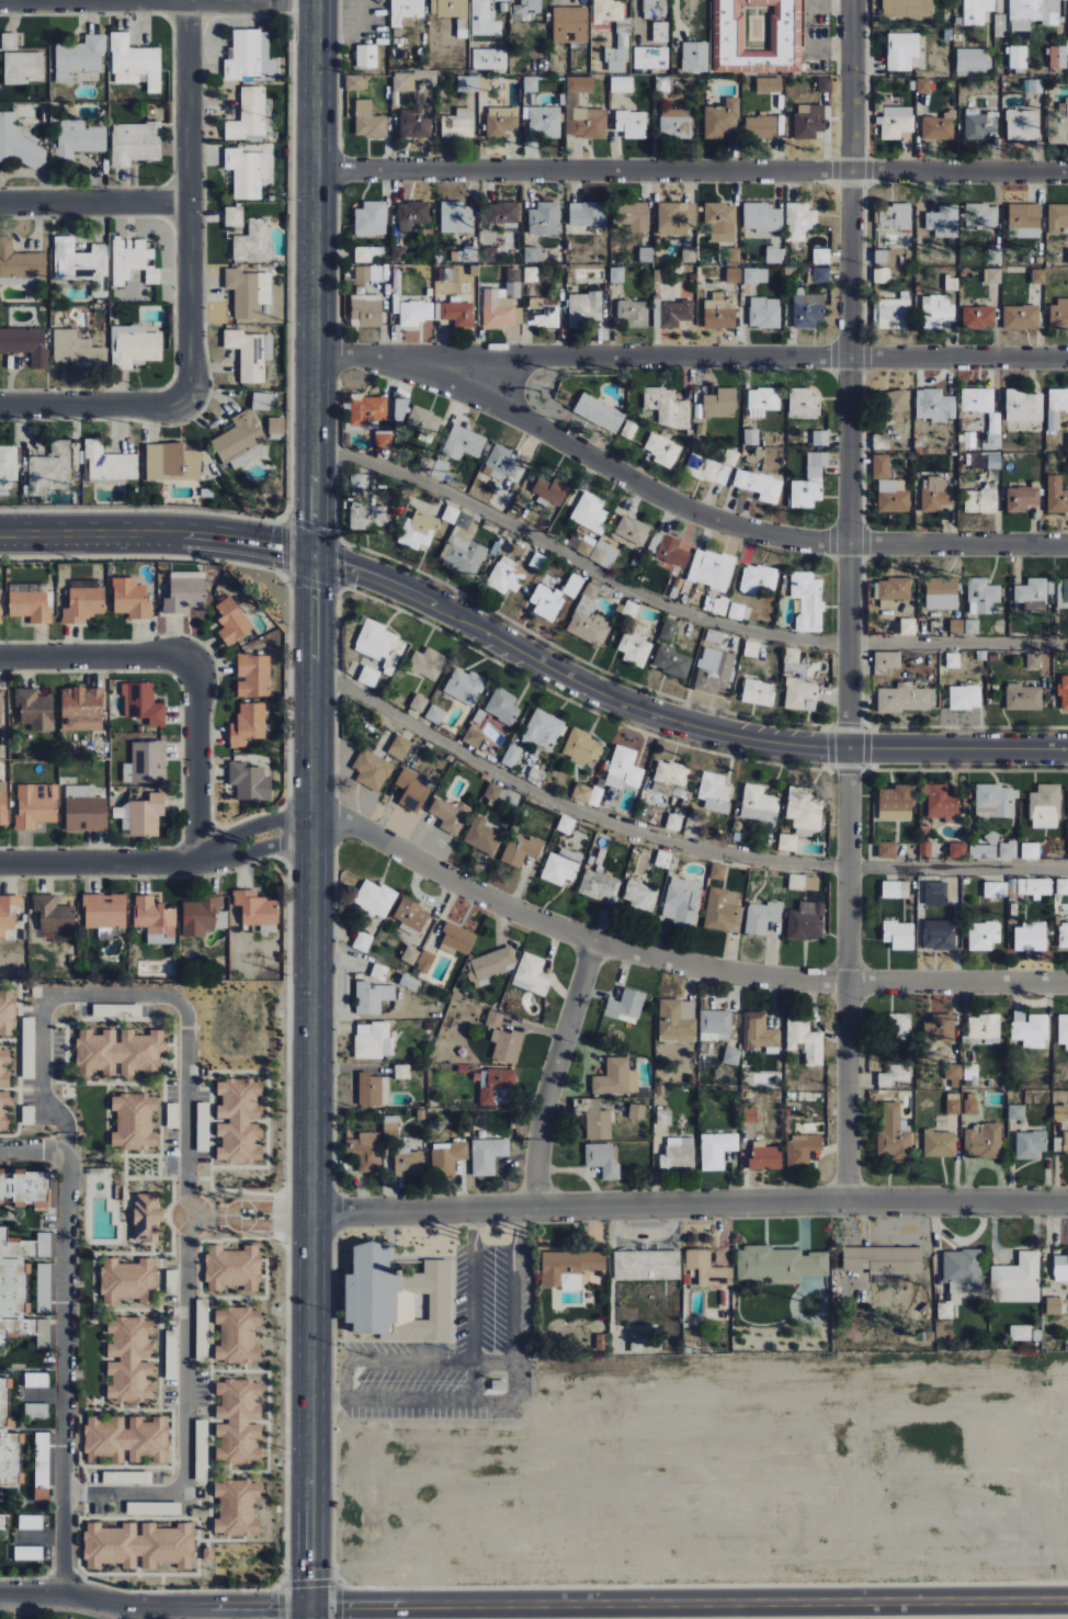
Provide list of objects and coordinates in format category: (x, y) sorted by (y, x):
building: (502, 0)
building: (529, 7)
building: (655, 9)
building: (907, 9)
building: (406, 11)
building: (607, 11)
building: (976, 11)
building: (1033, 13)
building: (485, 19)
building: (569, 24)
building: (660, 32)
building: (757, 35)
building: (9, 42)
building: (901, 49)
building: (249, 56)
building: (370, 56)
building: (79, 57)
building: (651, 57)
building: (694, 57)
building: (1018, 57)
building: (1058, 57)
building: (489, 60)
building: (972, 60)
building: (135, 63)
building: (23, 68)
building: (404, 81)
building: (356, 82)
building: (467, 83)
building: (579, 83)
building: (621, 83)
building: (769, 84)
building: (823, 84)
building: (922, 86)
building: (1035, 86)
building: (249, 115)
building: (502, 120)
building: (720, 120)
building: (367, 121)
building: (808, 121)
building: (413, 122)
building: (544, 122)
building: (896, 122)
building: (588, 123)
building: (675, 123)
building: (458, 124)
building: (630, 124)
building: (978, 124)
building: (1058, 124)
building: (1022, 125)
building: (938, 126)
building: (760, 127)
building: (79, 139)
building: (135, 143)
building: (18, 144)
road: (692, 170)
building: (247, 172)
road: (188, 200)
road: (93, 202)
building: (587, 213)
building: (501, 214)
building: (411, 215)
building: (634, 215)
building: (234, 216)
building: (895, 216)
building: (456, 217)
building: (762, 217)
building: (981, 217)
building: (675, 218)
building: (1057, 218)
building: (371, 219)
building: (544, 219)
building: (943, 220)
building: (720, 222)
building: (799, 222)
building: (1024, 222)
building: (639, 239)
building: (253, 242)
building: (367, 253)
building: (398, 254)
building: (490, 254)
building: (535, 254)
building: (645, 254)
building: (732, 256)
building: (774, 256)
building: (820, 256)
building: (886, 257)
building: (1066, 257)
building: (75, 260)
building: (20, 262)
building: (133, 262)
building: (367, 273)
building: (448, 274)
building: (531, 274)
building: (616, 275)
building: (732, 275)
building: (755, 275)
building: (821, 275)
building: (882, 275)
building: (992, 275)
building: (1038, 276)
building: (13, 281)
building: (951, 283)
building: (248, 292)
building: (500, 306)
building: (586, 308)
building: (807, 309)
building: (365, 310)
building: (543, 312)
building: (935, 312)
building: (414, 313)
building: (457, 313)
building: (671, 313)
building: (764, 313)
building: (632, 314)
building: (719, 314)
building: (893, 314)
building: (1059, 314)
building: (978, 317)
building: (1021, 317)
building: (25, 343)
building: (134, 347)
building: (76, 350)
building: (247, 354)
road: (693, 355)
building: (763, 399)
building: (977, 399)
road: (90, 400)
building: (260, 401)
building: (720, 404)
building: (803, 404)
building: (934, 405)
building: (1024, 406)
building: (667, 407)
building: (896, 407)
building: (1056, 407)
building: (367, 409)
building: (400, 409)
building: (599, 414)
building: (424, 420)
building: (275, 426)
building: (238, 435)
building: (750, 437)
building: (820, 438)
building: (384, 440)
building: (463, 443)
building: (662, 451)
building: (248, 455)
building: (163, 461)
building: (979, 461)
building: (109, 463)
building: (424, 465)
building: (503, 465)
building: (8, 466)
building: (880, 466)
building: (712, 467)
building: (809, 482)
building: (759, 486)
building: (550, 493)
building: (935, 495)
building: (1056, 495)
building: (893, 497)
building: (1022, 498)
building: (980, 501)
building: (589, 511)
building: (366, 516)
road: (717, 519)
road: (156, 530)
building: (417, 531)
building: (632, 532)
building: (581, 545)
building: (463, 546)
building: (668, 550)
building: (603, 554)
building: (711, 569)
building: (507, 576)
building: (758, 579)
building: (575, 582)
building: (893, 591)
building: (1032, 591)
building: (184, 592)
building: (941, 593)
building: (1065, 593)
building: (981, 597)
building: (546, 598)
building: (129, 599)
building: (807, 601)
road: (851, 602)
building: (81, 604)
building: (30, 605)
road: (675, 608)
building: (628, 609)
building: (736, 611)
building: (588, 616)
building: (231, 622)
building: (908, 626)
building: (956, 626)
building: (972, 626)
building: (669, 630)
building: (714, 636)
building: (379, 645)
building: (635, 648)
building: (792, 655)
road: (100, 656)
building: (672, 661)
building: (1033, 661)
building: (886, 663)
building: (428, 665)
building: (714, 670)
building: (252, 676)
building: (368, 677)
building: (464, 686)
building: (1064, 692)
building: (758, 693)
building: (800, 694)
building: (965, 698)
building: (1023, 698)
building: (904, 700)
building: (418, 703)
building: (143, 704)
building: (502, 706)
building: (0, 707)
building: (34, 709)
building: (81, 710)
road: (673, 713)
building: (435, 715)
building: (247, 724)
building: (543, 729)
building: (475, 731)
building: (399, 747)
building: (582, 748)
building: (511, 756)
road: (196, 758)
building: (146, 763)
building: (624, 769)
building: (372, 770)
building: (670, 778)
building: (249, 783)
building: (411, 791)
building: (715, 792)
building: (491, 793)
building: (587, 794)
building: (996, 800)
building: (3, 803)
building: (758, 803)
building: (895, 803)
building: (942, 803)
building: (35, 805)
building: (1045, 807)
road: (313, 808)
building: (83, 810)
building: (803, 810)
building: (450, 815)
building: (141, 816)
road: (249, 825)
building: (565, 825)
building: (482, 837)
road: (672, 841)
building: (784, 842)
building: (924, 849)
building: (521, 850)
building: (887, 850)
building: (1008, 850)
building: (957, 851)
building: (1030, 851)
road: (253, 852)
building: (982, 852)
building: (662, 859)
road: (96, 862)
building: (560, 867)
building: (717, 872)
building: (803, 883)
building: (598, 884)
building: (1034, 887)
building: (1061, 887)
building: (895, 890)
building: (936, 890)
building: (996, 890)
building: (640, 897)
building: (374, 898)
building: (682, 902)
building: (255, 909)
building: (104, 910)
building: (723, 910)
building: (8, 913)
building: (53, 915)
building: (200, 916)
building: (761, 917)
building: (410, 918)
building: (155, 920)
building: (806, 921)
building: (424, 929)
building: (898, 936)
building: (982, 936)
building: (1030, 937)
building: (1064, 937)
building: (939, 938)
building: (456, 939)
building: (362, 942)
building: (408, 959)
building: (424, 962)
road: (673, 965)
building: (489, 966)
building: (378, 973)
building: (531, 974)
building: (372, 998)
building: (625, 1005)
building: (7, 1014)
building: (495, 1019)
building: (715, 1022)
building: (674, 1023)
building: (899, 1028)
building: (985, 1029)
building: (1030, 1030)
building: (1063, 1030)
building: (940, 1032)
building: (760, 1033)
building: (806, 1040)
building: (373, 1041)
building: (505, 1045)
building: (116, 1054)
building: (731, 1056)
building: (1, 1068)
building: (401, 1072)
road: (556, 1072)
building: (959, 1073)
building: (616, 1078)
building: (495, 1085)
building: (372, 1090)
building: (970, 1103)
building: (953, 1105)
building: (2, 1108)
building: (637, 1112)
building: (1015, 1113)
building: (1059, 1113)
building: (749, 1118)
building: (598, 1121)
building: (134, 1122)
building: (238, 1122)
building: (390, 1124)
building: (894, 1134)
building: (981, 1141)
road: (66, 1144)
building: (940, 1144)
building: (1065, 1144)
building: (1030, 1145)
road: (185, 1151)
building: (716, 1151)
building: (802, 1151)
building: (367, 1152)
building: (679, 1154)
building: (487, 1155)
building: (447, 1157)
building: (764, 1157)
building: (603, 1159)
building: (408, 1163)
building: (24, 1188)
road: (690, 1207)
road: (265, 1212)
road: (202, 1215)
building: (146, 1218)
building: (883, 1259)
building: (646, 1265)
building: (779, 1265)
building: (232, 1267)
building: (705, 1267)
building: (1060, 1267)
building: (568, 1268)
building: (962, 1271)
building: (127, 1279)
building: (1016, 1279)
building: (42, 1280)
building: (20, 1283)
building: (396, 1297)
road: (471, 1303)
building: (1053, 1304)
building: (945, 1309)
building: (1024, 1334)
building: (235, 1335)
road: (60, 1341)
building: (130, 1360)
road: (411, 1360)
building: (36, 1380)
building: (498, 1384)
road: (508, 1401)
building: (36, 1411)
building: (238, 1419)
building: (126, 1440)
building: (8, 1443)
building: (42, 1465)
road: (71, 1493)
building: (235, 1507)
building: (3, 1520)
building: (31, 1521)
building: (138, 1546)
road: (152, 1603)
road: (688, 1604)
road: (25, 1606)
road: (246, 1610)
road: (129, 1611)

